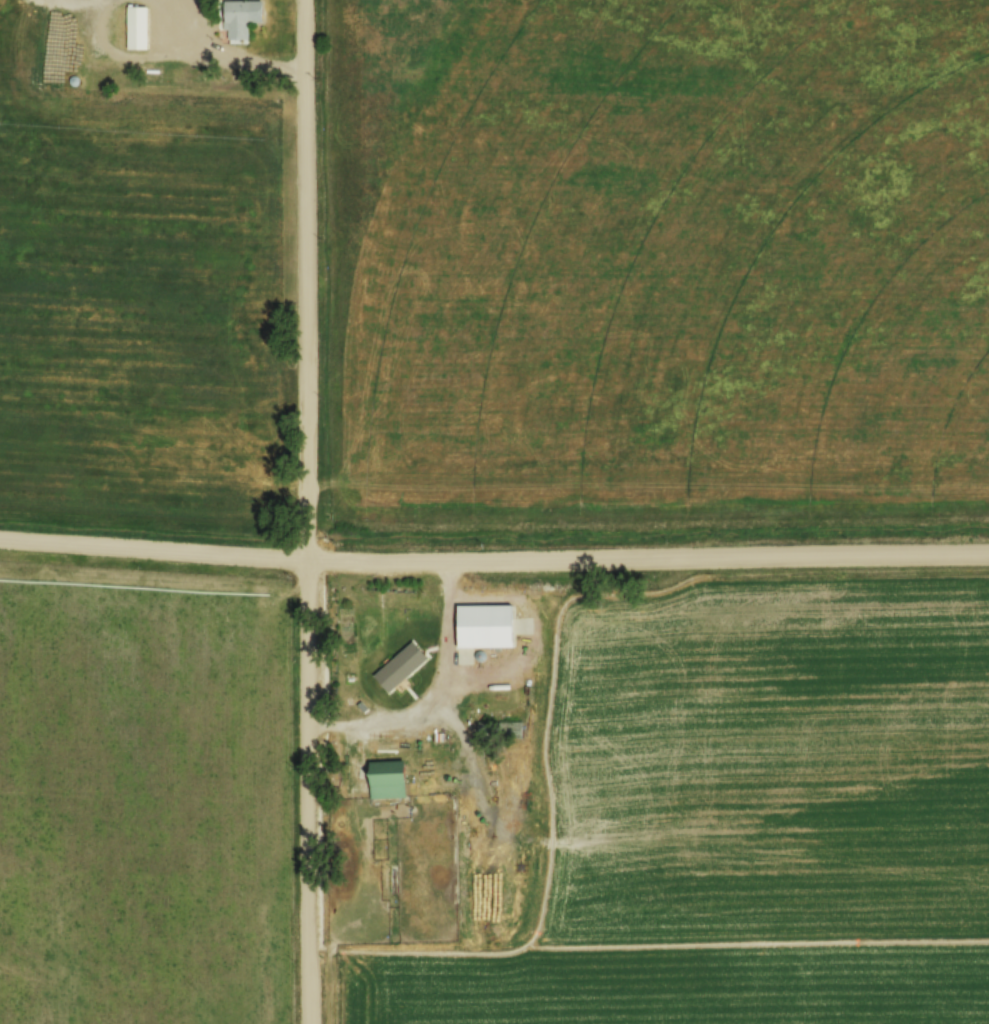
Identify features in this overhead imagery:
building: (236, 20)
building: (135, 27)
road: (240, 64)
road: (309, 511)
road: (494, 561)
building: (483, 625)
building: (365, 629)
road: (435, 695)
building: (512, 729)
building: (385, 779)

